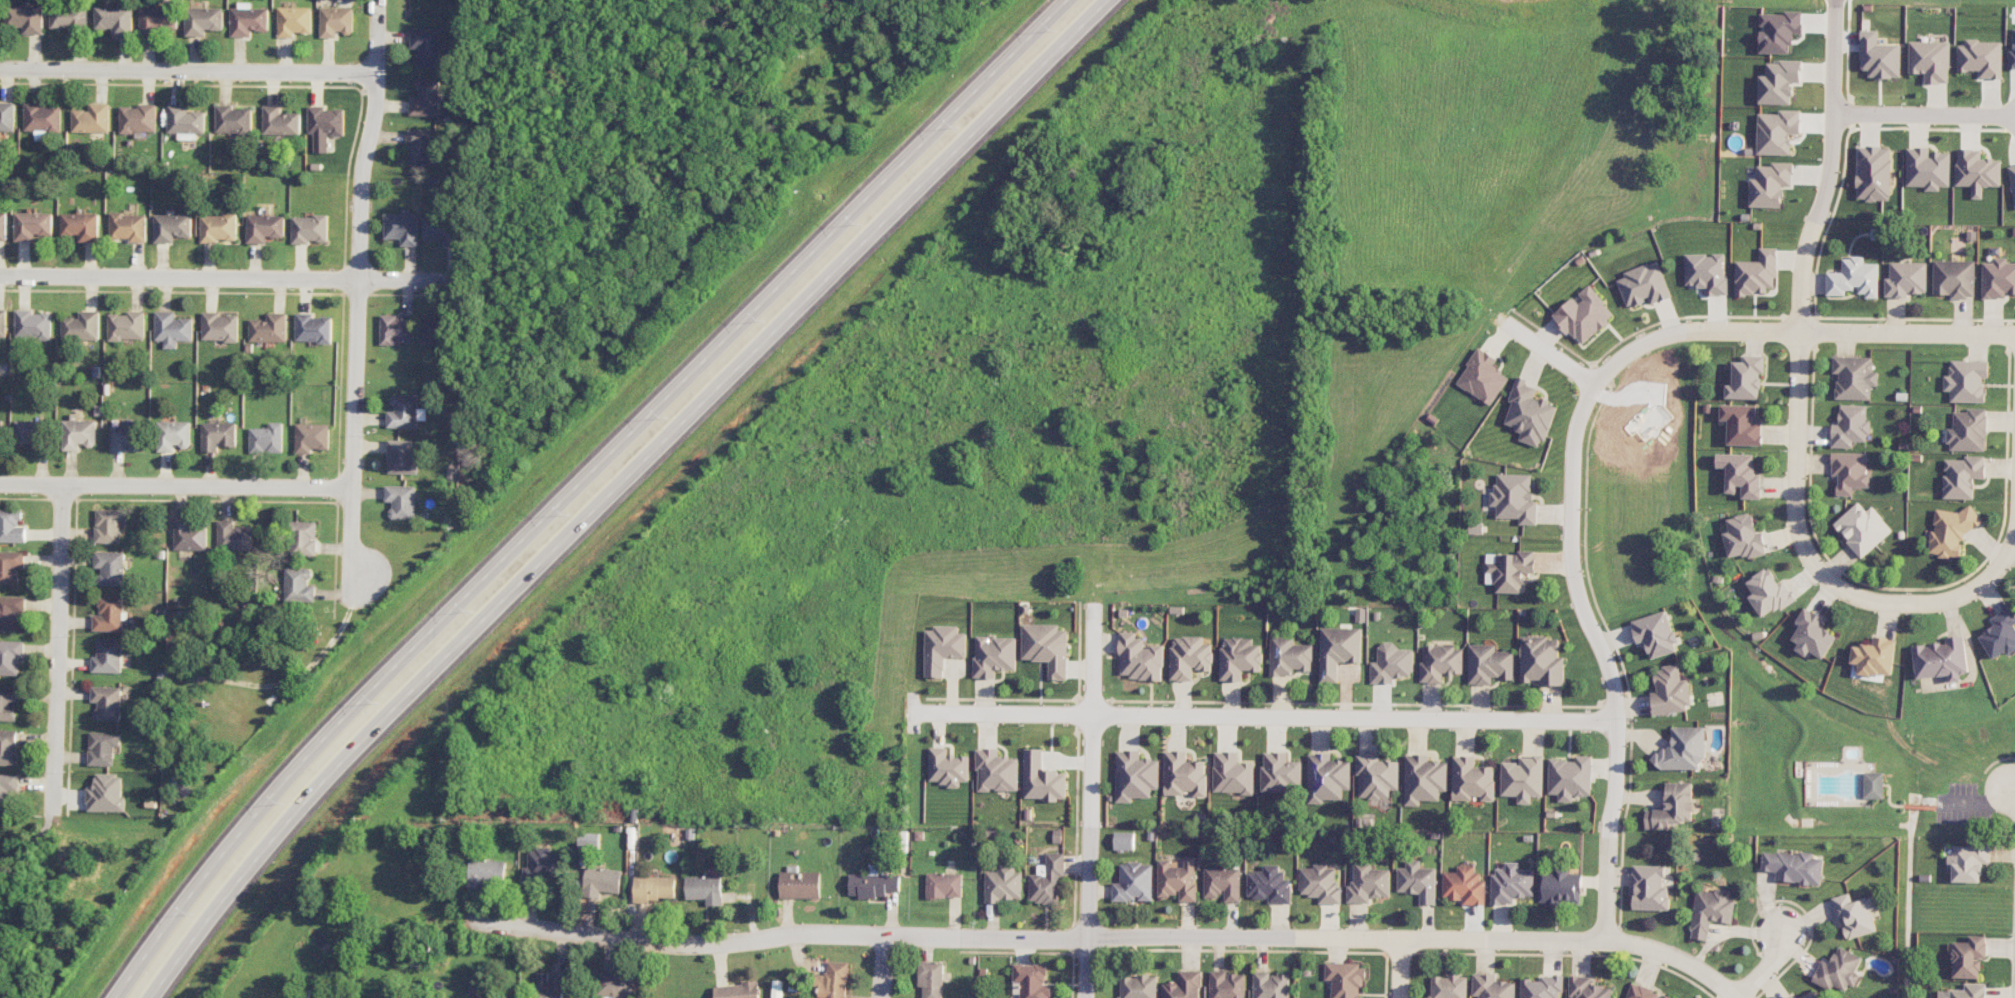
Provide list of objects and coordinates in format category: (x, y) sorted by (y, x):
building: (25, 18)
building: (70, 18)
building: (115, 19)
building: (159, 20)
building: (203, 20)
building: (247, 20)
building: (293, 21)
building: (335, 21)
building: (1778, 31)
building: (426, 46)
building: (2012, 55)
building: (1879, 56)
building: (1981, 58)
building: (1930, 60)
road: (188, 72)
building: (1779, 82)
building: (425, 98)
road: (1924, 113)
building: (7, 116)
building: (42, 119)
building: (91, 119)
building: (137, 119)
building: (232, 119)
building: (184, 121)
building: (280, 122)
building: (324, 126)
building: (1777, 132)
building: (421, 147)
building: (1928, 168)
building: (1977, 171)
building: (1874, 173)
building: (2012, 179)
building: (1770, 185)
building: (33, 225)
building: (3, 226)
building: (81, 226)
building: (128, 227)
building: (171, 227)
building: (218, 228)
building: (263, 228)
building: (401, 228)
building: (309, 229)
building: (440, 230)
road: (357, 242)
building: (1706, 273)
building: (1757, 273)
road: (224, 278)
building: (1854, 278)
building: (1954, 278)
building: (1998, 278)
building: (1906, 279)
building: (1644, 285)
road: (1800, 308)
building: (1584, 315)
building: (3, 323)
building: (32, 325)
building: (81, 326)
building: (127, 326)
building: (219, 327)
building: (269, 328)
building: (312, 328)
building: (395, 328)
building: (432, 328)
building: (172, 329)
road: (1796, 330)
road: (1550, 352)
building: (1483, 377)
building: (1854, 377)
building: (1746, 378)
building: (1967, 381)
building: (405, 412)
building: (1529, 414)
building: (1742, 425)
building: (1851, 426)
building: (1, 427)
building: (1968, 431)
building: (29, 432)
building: (79, 434)
building: (173, 435)
building: (218, 435)
building: (311, 437)
building: (126, 438)
building: (266, 439)
building: (401, 458)
building: (1850, 472)
building: (1740, 474)
building: (1962, 476)
road: (574, 487)
road: (175, 488)
road: (620, 488)
building: (1514, 498)
building: (401, 501)
building: (109, 525)
building: (11, 526)
building: (1863, 528)
building: (1952, 530)
building: (189, 535)
building: (234, 536)
road: (351, 536)
building: (1743, 537)
building: (303, 538)
building: (10, 566)
building: (110, 568)
building: (1508, 570)
building: (299, 585)
building: (1769, 593)
road: (1951, 600)
building: (11, 612)
building: (108, 614)
building: (1656, 634)
building: (2000, 634)
building: (1812, 635)
building: (1046, 647)
building: (942, 648)
building: (1338, 650)
road: (59, 652)
building: (107, 656)
building: (993, 656)
building: (1289, 656)
road: (1606, 656)
building: (10, 657)
building: (1188, 657)
building: (1875, 657)
building: (1139, 658)
building: (1239, 658)
building: (1941, 659)
building: (1542, 661)
building: (1441, 662)
building: (1391, 663)
building: (1489, 664)
building: (1671, 691)
building: (9, 702)
building: (106, 702)
road: (1263, 715)
building: (8, 747)
building: (102, 747)
building: (1683, 749)
building: (947, 767)
building: (996, 771)
building: (1280, 772)
building: (1232, 773)
building: (1184, 774)
building: (1135, 776)
building: (1376, 776)
building: (1327, 778)
building: (1523, 778)
building: (1570, 778)
building: (1042, 779)
building: (1424, 779)
building: (1472, 779)
road: (2004, 784)
building: (1874, 785)
building: (9, 791)
building: (106, 793)
road: (1089, 796)
building: (1673, 807)
road: (31, 840)
building: (588, 840)
building: (1124, 840)
building: (1969, 862)
building: (543, 866)
building: (1793, 867)
building: (485, 872)
building: (1178, 879)
building: (1047, 880)
building: (601, 881)
building: (1418, 881)
building: (1134, 882)
building: (1223, 883)
building: (1368, 883)
building: (1004, 884)
building: (1320, 884)
building: (1511, 884)
building: (800, 885)
building: (873, 885)
building: (944, 885)
building: (1270, 885)
building: (1465, 885)
building: (1560, 887)
building: (653, 888)
building: (1650, 888)
building: (704, 889)
building: (1711, 911)
building: (1856, 914)
road: (1109, 936)
road: (1774, 957)
building: (1969, 957)
road: (883, 966)
road: (1400, 968)
building: (1839, 970)
building: (931, 979)
building: (1346, 979)
building: (832, 980)
building: (1032, 980)
building: (550, 985)
building: (615, 985)
building: (1226, 985)
building: (1270, 985)
building: (1138, 986)
building: (1183, 986)
building: (1448, 986)
building: (1492, 987)
building: (1541, 987)
building: (1586, 988)
building: (737, 990)
building: (1643, 992)
building: (1966, 992)
building: (1811, 995)
building: (1792, 997)

